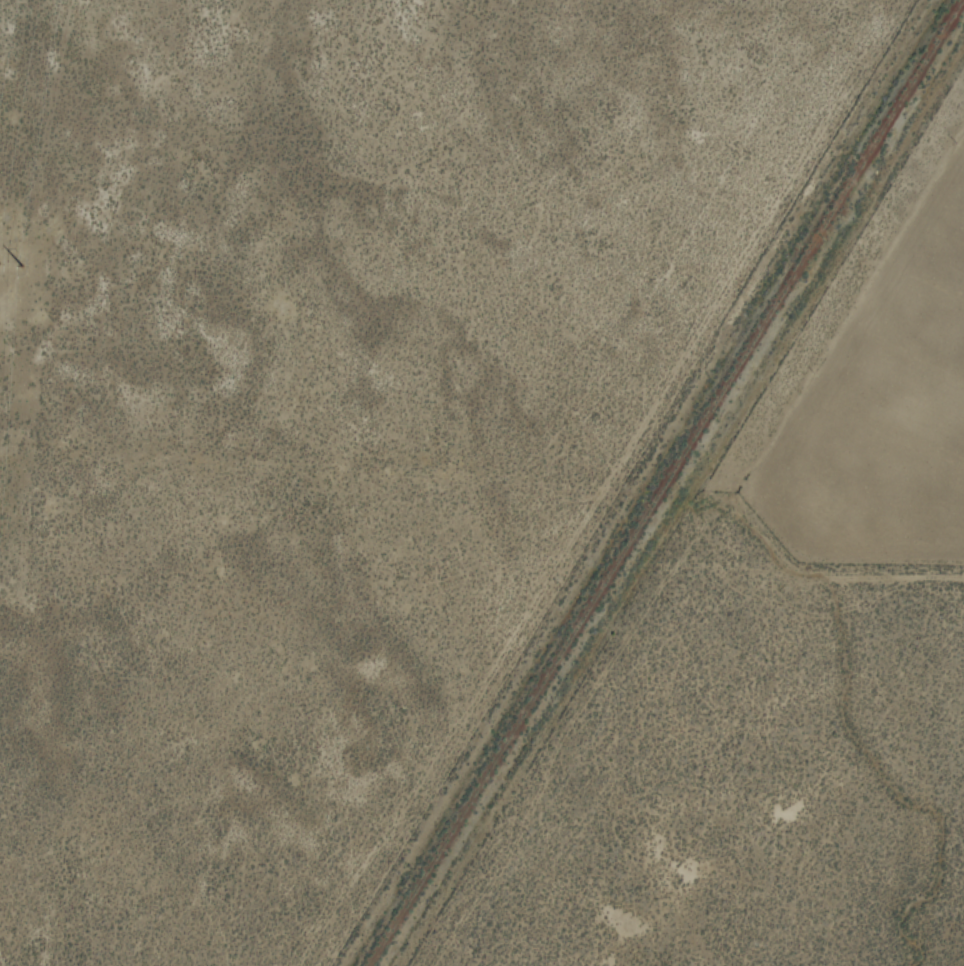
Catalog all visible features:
road: (680, 510)

